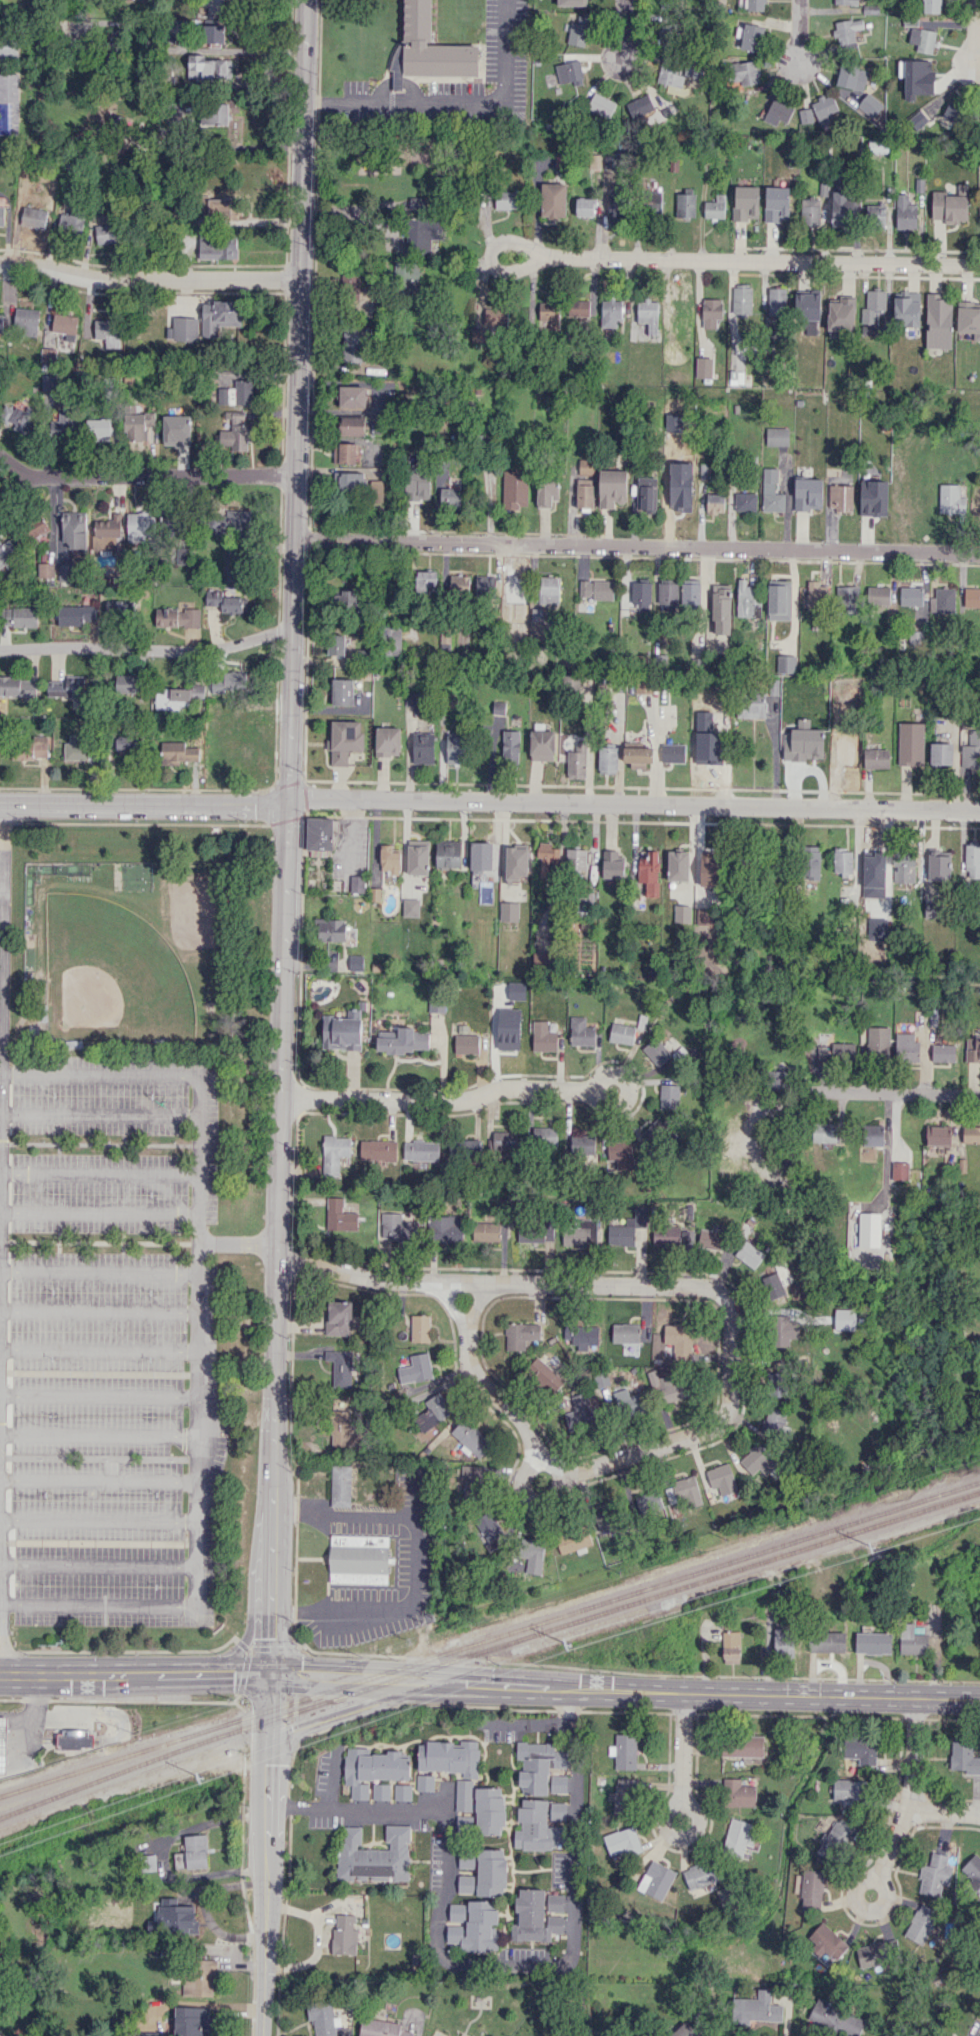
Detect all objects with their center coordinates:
building: (573, 2)
building: (846, 2)
building: (755, 5)
building: (931, 6)
building: (578, 30)
road: (624, 30)
road: (798, 30)
building: (847, 32)
road: (972, 32)
building: (215, 33)
building: (665, 35)
building: (752, 37)
building: (922, 39)
building: (8, 46)
building: (428, 48)
road: (182, 49)
building: (208, 68)
building: (745, 72)
building: (669, 74)
building: (916, 76)
building: (851, 77)
building: (569, 78)
road: (452, 101)
building: (642, 101)
building: (9, 102)
building: (601, 105)
building: (870, 105)
building: (824, 108)
building: (778, 112)
building: (956, 112)
building: (213, 114)
building: (806, 115)
building: (918, 119)
building: (878, 146)
building: (594, 160)
building: (506, 199)
building: (979, 199)
building: (553, 200)
building: (656, 201)
building: (417, 202)
building: (745, 202)
building: (776, 203)
building: (685, 204)
building: (951, 205)
building: (218, 206)
building: (585, 206)
building: (616, 206)
building: (715, 207)
building: (842, 208)
building: (810, 212)
building: (905, 213)
building: (2, 214)
building: (876, 216)
building: (33, 217)
building: (70, 221)
building: (426, 231)
building: (108, 233)
building: (217, 247)
road: (489, 255)
road: (763, 260)
road: (149, 271)
building: (404, 277)
building: (351, 283)
building: (742, 300)
building: (776, 301)
building: (577, 306)
building: (808, 306)
building: (906, 309)
building: (711, 311)
building: (872, 311)
building: (610, 313)
building: (648, 314)
building: (679, 314)
building: (218, 316)
building: (840, 316)
building: (549, 318)
building: (969, 318)
building: (25, 320)
building: (938, 321)
building: (1, 323)
building: (64, 323)
building: (183, 329)
building: (106, 332)
building: (478, 335)
building: (354, 344)
building: (48, 354)
building: (703, 367)
building: (49, 381)
building: (236, 393)
building: (352, 396)
building: (17, 416)
building: (137, 425)
building: (351, 425)
building: (64, 426)
building: (99, 429)
building: (176, 430)
building: (236, 432)
building: (777, 436)
building: (673, 448)
building: (345, 453)
road: (16, 464)
building: (586, 466)
road: (164, 476)
building: (348, 481)
building: (417, 482)
road: (16, 487)
building: (612, 487)
building: (515, 489)
building: (376, 491)
building: (771, 491)
building: (448, 493)
building: (584, 493)
building: (808, 493)
building: (546, 494)
building: (647, 494)
building: (840, 497)
building: (873, 497)
building: (682, 499)
building: (950, 499)
building: (745, 501)
building: (976, 501)
building: (715, 503)
building: (232, 522)
building: (175, 523)
building: (140, 527)
building: (74, 530)
building: (35, 533)
building: (106, 535)
road: (636, 546)
building: (7, 553)
building: (233, 569)
building: (46, 570)
building: (64, 572)
building: (517, 578)
building: (426, 581)
building: (457, 583)
building: (485, 584)
building: (549, 589)
building: (595, 589)
building: (691, 592)
building: (641, 594)
building: (668, 595)
building: (816, 595)
building: (877, 595)
building: (910, 595)
building: (972, 597)
building: (347, 598)
building: (778, 599)
building: (846, 599)
building: (746, 600)
building: (944, 600)
building: (227, 602)
building: (118, 608)
building: (76, 614)
building: (18, 616)
building: (177, 617)
building: (720, 619)
building: (391, 640)
building: (336, 645)
road: (146, 650)
building: (785, 663)
building: (233, 680)
building: (643, 682)
building: (127, 684)
building: (18, 686)
building: (67, 687)
building: (815, 689)
building: (342, 691)
building: (177, 697)
building: (411, 698)
building: (498, 707)
building: (750, 707)
building: (720, 720)
building: (344, 740)
building: (387, 741)
building: (127, 743)
building: (911, 743)
building: (511, 745)
building: (543, 745)
building: (31, 747)
building: (422, 747)
building: (455, 747)
building: (808, 748)
building: (845, 748)
building: (75, 749)
building: (971, 750)
building: (179, 752)
building: (673, 752)
building: (637, 754)
building: (941, 754)
road: (778, 756)
building: (876, 758)
building: (607, 759)
building: (577, 760)
road: (489, 801)
building: (317, 833)
road: (284, 835)
building: (448, 853)
building: (481, 855)
building: (417, 857)
building: (389, 859)
building: (576, 859)
building: (548, 860)
building: (876, 860)
building: (972, 860)
building: (842, 861)
building: (516, 862)
building: (812, 862)
building: (612, 864)
building: (678, 865)
building: (939, 865)
building: (903, 867)
building: (649, 873)
building: (357, 883)
building: (410, 907)
building: (932, 909)
building: (509, 911)
building: (682, 913)
building: (705, 915)
building: (330, 929)
building: (331, 958)
building: (355, 962)
park: (99, 971)
building: (516, 990)
building: (436, 1003)
road: (1, 1008)
building: (508, 1028)
building: (342, 1030)
building: (581, 1031)
building: (622, 1033)
building: (543, 1037)
building: (403, 1040)
building: (877, 1040)
building: (466, 1043)
building: (907, 1047)
building: (974, 1048)
building: (656, 1051)
building: (836, 1051)
building: (941, 1052)
road: (100, 1074)
building: (777, 1079)
road: (491, 1090)
road: (905, 1093)
building: (669, 1096)
road: (99, 1114)
building: (652, 1129)
building: (822, 1132)
building: (971, 1133)
building: (732, 1134)
building: (873, 1135)
building: (938, 1135)
building: (544, 1136)
building: (505, 1141)
building: (582, 1144)
building: (464, 1146)
building: (378, 1149)
building: (421, 1150)
building: (334, 1153)
building: (621, 1153)
building: (900, 1170)
road: (99, 1172)
road: (99, 1211)
building: (340, 1216)
building: (398, 1227)
building: (627, 1228)
building: (445, 1229)
building: (869, 1229)
building: (486, 1231)
building: (537, 1232)
building: (575, 1236)
building: (671, 1238)
building: (710, 1239)
road: (237, 1242)
building: (749, 1254)
road: (99, 1271)
road: (496, 1282)
building: (772, 1285)
road: (449, 1305)
road: (98, 1310)
building: (338, 1317)
building: (845, 1319)
building: (420, 1327)
building: (787, 1328)
parking lot: (12, 1330)
building: (521, 1335)
building: (581, 1335)
building: (626, 1336)
road: (197, 1340)
building: (680, 1340)
road: (98, 1349)
building: (340, 1366)
building: (416, 1368)
building: (545, 1374)
building: (773, 1381)
building: (672, 1387)
road: (98, 1395)
building: (627, 1403)
building: (433, 1412)
building: (580, 1412)
building: (772, 1421)
building: (340, 1427)
road: (97, 1434)
building: (469, 1438)
building: (758, 1460)
road: (599, 1462)
road: (97, 1479)
building: (722, 1479)
building: (472, 1483)
building: (340, 1485)
road: (527, 1497)
building: (640, 1504)
building: (605, 1519)
road: (97, 1520)
building: (488, 1527)
building: (573, 1540)
building: (532, 1554)
building: (359, 1558)
parking lot: (407, 1558)
road: (414, 1563)
road: (96, 1564)
building: (904, 1597)
building: (778, 1598)
road: (96, 1604)
railway: (489, 1638)
building: (913, 1639)
building: (828, 1641)
building: (874, 1642)
building: (785, 1643)
building: (731, 1646)
railway: (488, 1649)
traffic signals: (268, 1671)
road: (133, 1672)
road: (418, 1676)
road: (773, 1695)
road: (38, 1696)
road: (266, 1701)
road: (350, 1704)
road: (566, 1706)
road: (19, 1719)
road: (110, 1719)
road: (57, 1720)
road: (523, 1726)
road: (38, 1729)
building: (3, 1734)
road: (47, 1739)
road: (69, 1739)
building: (69, 1741)
building: (742, 1745)
building: (861, 1750)
building: (624, 1751)
building: (449, 1756)
building: (964, 1757)
building: (538, 1765)
parking lot: (16, 1767)
building: (372, 1769)
building: (425, 1782)
building: (558, 1783)
building: (381, 1791)
building: (848, 1791)
building: (402, 1792)
building: (738, 1793)
building: (464, 1794)
building: (624, 1795)
road: (671, 1799)
building: (489, 1810)
building: (558, 1810)
road: (943, 1811)
building: (536, 1827)
building: (737, 1837)
building: (835, 1838)
road: (892, 1839)
building: (622, 1841)
road: (577, 1842)
building: (192, 1853)
building: (374, 1855)
building: (148, 1862)
road: (440, 1864)
building: (972, 1871)
building: (491, 1872)
building: (935, 1874)
building: (702, 1875)
building: (656, 1879)
road: (263, 1883)
building: (466, 1883)
building: (812, 1888)
building: (555, 1902)
building: (457, 1912)
building: (533, 1917)
building: (921, 1923)
building: (476, 1927)
building: (344, 1934)
building: (826, 1941)
building: (878, 1951)
building: (199, 1977)
building: (758, 2007)
building: (323, 2018)
building: (836, 2018)
building: (193, 2021)
building: (381, 2028)
building: (683, 2030)
building: (1, 2034)

